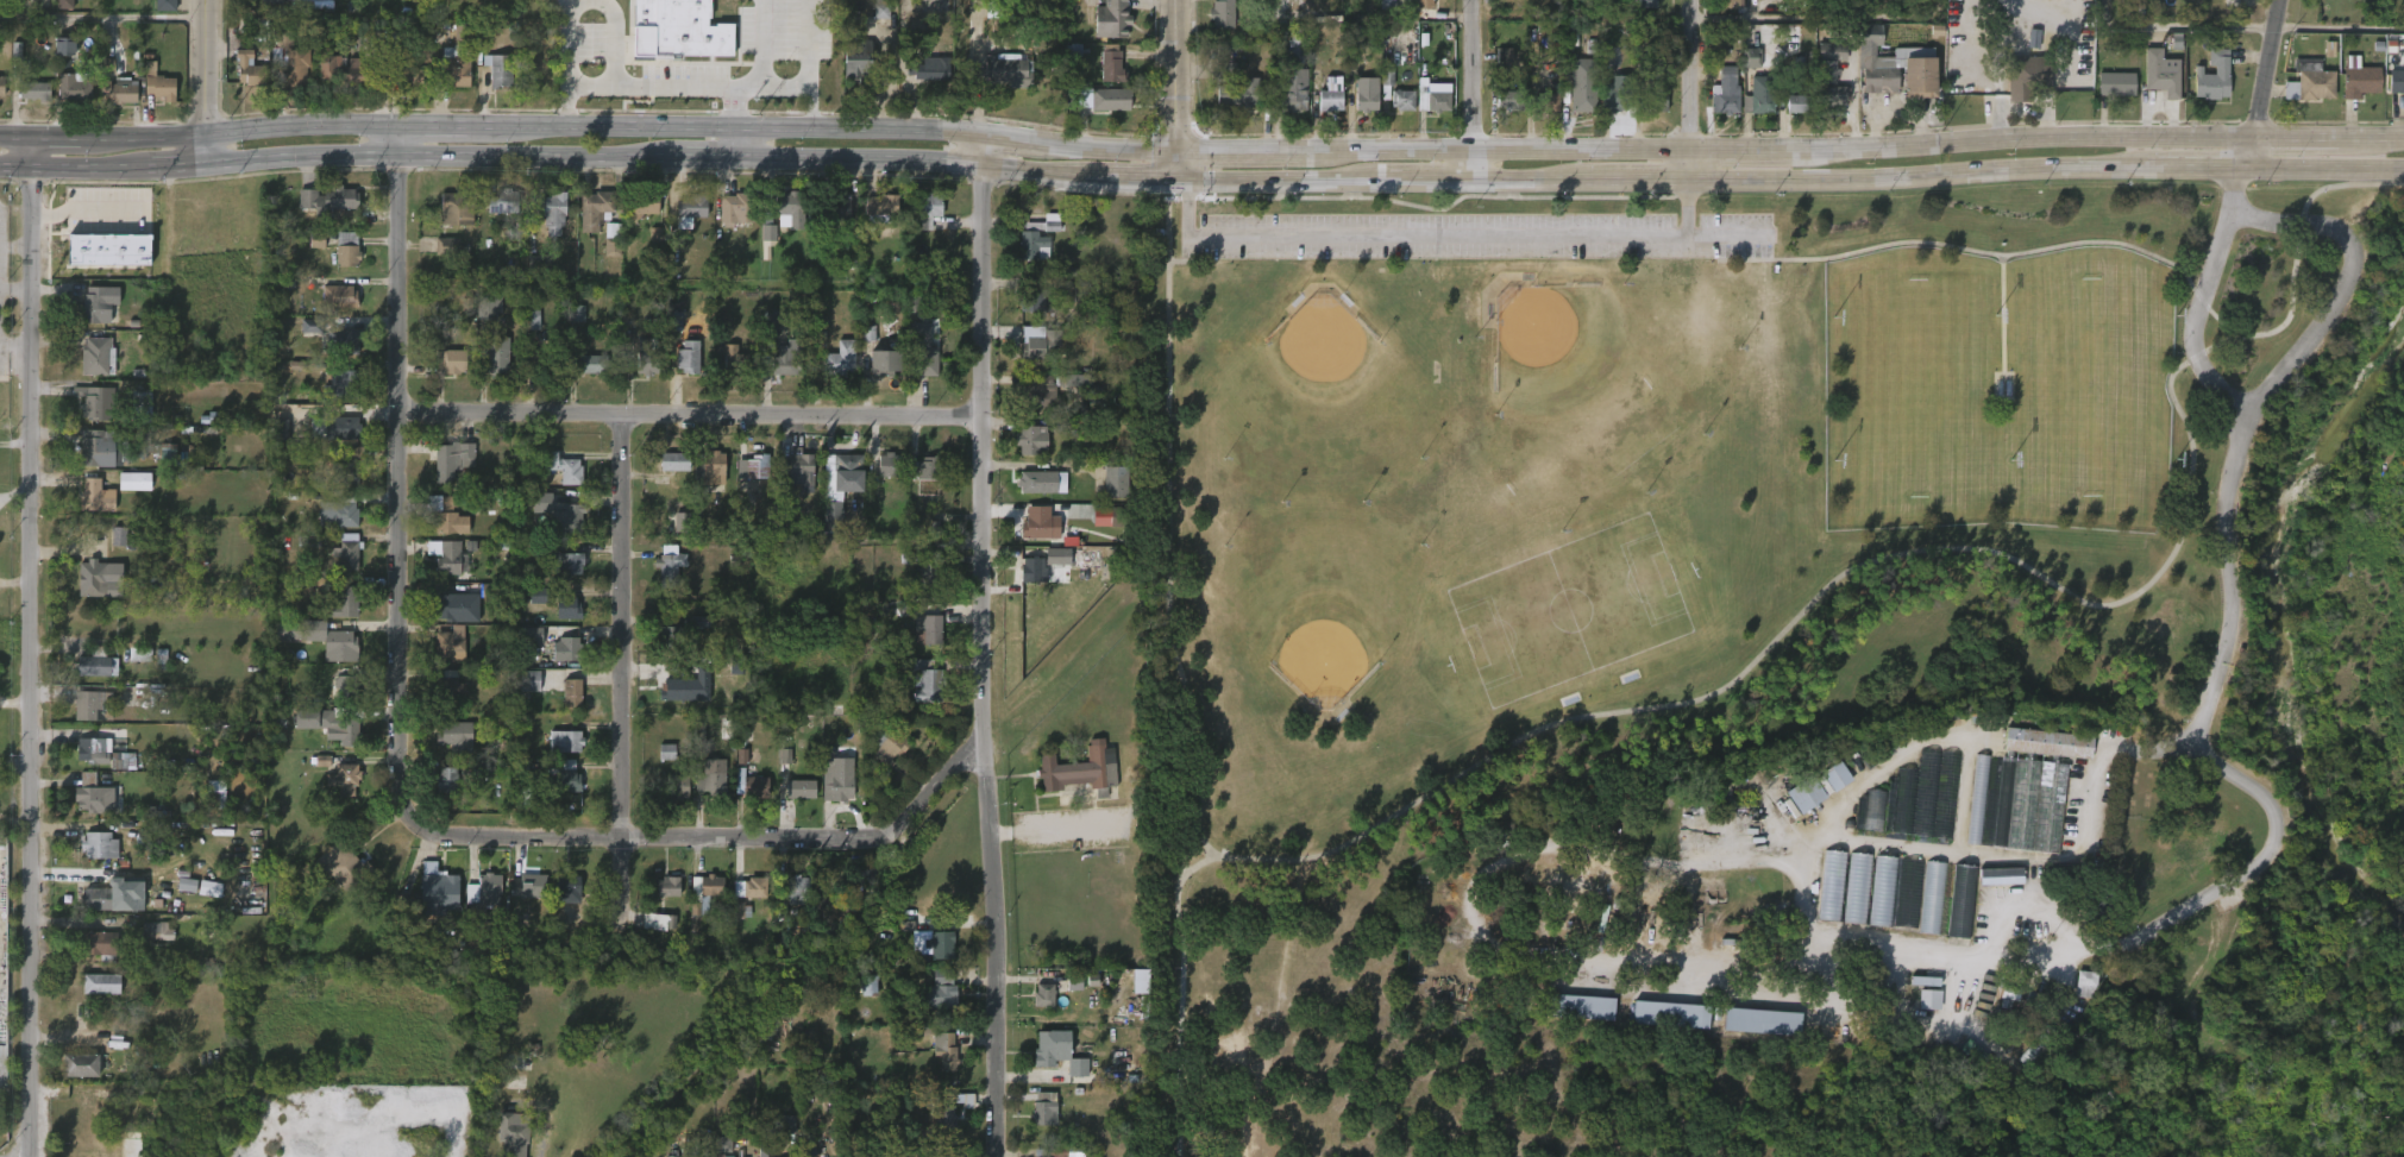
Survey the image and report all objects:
road: (2009, 0)
building: (2331, 1)
building: (2375, 1)
building: (270, 4)
building: (1425, 4)
building: (1647, 4)
building: (1866, 4)
building: (1727, 5)
building: (942, 7)
building: (1408, 10)
building: (1633, 10)
building: (2403, 12)
building: (1220, 14)
building: (1377, 14)
road: (1818, 15)
building: (156, 17)
building: (1112, 20)
building: (683, 26)
road: (2246, 26)
road: (766, 42)
building: (1294, 45)
building: (1833, 54)
building: (2023, 54)
building: (456, 58)
building: (856, 58)
building: (56, 61)
building: (288, 62)
road: (569, 63)
road: (814, 63)
building: (1112, 65)
building: (1285, 65)
building: (1894, 65)
building: (929, 67)
building: (249, 70)
building: (498, 70)
building: (1009, 70)
building: (345, 71)
building: (1741, 73)
building: (2159, 74)
road: (1176, 76)
building: (1819, 76)
building: (2210, 76)
building: (410, 77)
building: (848, 77)
building: (1101, 77)
building: (2027, 78)
building: (2397, 78)
building: (2309, 80)
road: (211, 81)
building: (237, 82)
building: (2360, 82)
building: (320, 83)
road: (691, 83)
building: (157, 84)
building: (490, 84)
building: (918, 84)
building: (999, 84)
building: (1583, 84)
building: (2115, 84)
road: (2262, 84)
building: (1218, 86)
road: (2045, 86)
building: (1, 87)
building: (447, 87)
building: (74, 88)
road: (1694, 88)
road: (1473, 89)
building: (2149, 89)
building: (2202, 92)
building: (33, 93)
building: (117, 93)
road: (2041, 93)
building: (2349, 93)
building: (1239, 94)
building: (1727, 94)
building: (2017, 94)
building: (1367, 95)
building: (1615, 95)
building: (1292, 96)
building: (1832, 96)
building: (2391, 96)
building: (2299, 98)
building: (149, 99)
building: (1401, 99)
building: (2105, 99)
building: (1573, 100)
building: (1432, 101)
building: (1512, 101)
building: (1758, 103)
building: (65, 105)
road: (736, 105)
building: (1113, 106)
building: (1715, 106)
building: (26, 107)
building: (109, 107)
road: (2020, 107)
building: (1229, 108)
building: (1357, 109)
building: (1603, 111)
building: (1824, 111)
building: (1424, 112)
building: (1499, 112)
building: (1100, 114)
building: (1393, 114)
building: (1320, 115)
road: (2041, 115)
building: (1538, 117)
building: (1646, 117)
road: (1998, 117)
building: (1787, 119)
road: (603, 127)
road: (14, 133)
road: (747, 143)
road: (1790, 149)
road: (30, 150)
road: (603, 159)
road: (14, 165)
road: (1176, 166)
road: (1790, 177)
building: (320, 201)
building: (503, 201)
building: (645, 203)
building: (692, 206)
building: (456, 207)
building: (791, 207)
building: (595, 208)
building: (736, 208)
building: (884, 208)
building: (927, 208)
building: (552, 210)
building: (836, 210)
building: (635, 220)
building: (489, 222)
building: (782, 222)
building: (585, 224)
building: (873, 224)
building: (447, 225)
building: (680, 225)
building: (724, 225)
building: (545, 229)
building: (767, 234)
road: (1436, 234)
parking lot: (1489, 234)
building: (1038, 237)
building: (613, 239)
building: (759, 247)
building: (346, 249)
building: (603, 254)
road: (2000, 256)
building: (438, 262)
building: (1024, 262)
building: (338, 264)
building: (541, 265)
road: (14, 290)
building: (340, 297)
building: (1034, 298)
road: (2336, 298)
building: (98, 303)
building: (488, 307)
building: (332, 312)
building: (1024, 315)
building: (302, 340)
building: (762, 340)
building: (345, 341)
building: (1043, 345)
building: (921, 350)
building: (333, 352)
building: (495, 354)
building: (98, 356)
building: (689, 356)
building: (647, 357)
building: (1025, 357)
building: (789, 358)
building: (734, 359)
building: (840, 359)
building: (452, 361)
building: (545, 361)
building: (591, 363)
building: (889, 364)
building: (912, 366)
building: (88, 371)
building: (488, 371)
building: (680, 371)
building: (724, 373)
building: (778, 373)
building: (830, 375)
building: (441, 376)
building: (639, 376)
building: (875, 377)
building: (580, 378)
building: (341, 385)
park: (2090, 385)
park: (1914, 388)
building: (1040, 392)
building: (95, 403)
building: (1028, 407)
road: (690, 415)
building: (84, 417)
building: (346, 428)
building: (1032, 439)
building: (335, 444)
park: (1460, 447)
building: (98, 448)
building: (1023, 454)
building: (452, 459)
building: (674, 461)
building: (889, 464)
building: (88, 466)
building: (758, 466)
building: (560, 467)
building: (711, 469)
building: (925, 469)
building: (801, 471)
road: (396, 474)
building: (444, 474)
building: (665, 477)
building: (134, 480)
building: (877, 480)
building: (745, 482)
building: (1042, 482)
building: (1113, 482)
building: (556, 483)
building: (701, 483)
building: (915, 483)
building: (341, 485)
building: (840, 485)
building: (791, 488)
building: (94, 496)
building: (126, 496)
building: (1032, 496)
building: (1105, 496)
building: (87, 510)
building: (343, 511)
building: (739, 514)
building: (450, 517)
building: (533, 517)
building: (567, 518)
building: (1042, 523)
building: (329, 529)
building: (559, 534)
building: (669, 536)
building: (123, 537)
building: (442, 537)
building: (1030, 537)
road: (1935, 545)
building: (111, 547)
building: (346, 551)
building: (447, 558)
building: (1086, 558)
building: (569, 564)
building: (338, 566)
building: (669, 566)
building: (439, 571)
building: (1048, 571)
building: (928, 574)
building: (558, 578)
building: (93, 579)
building: (916, 589)
building: (454, 599)
building: (344, 602)
building: (567, 608)
building: (334, 615)
park: (1567, 615)
building: (437, 621)
building: (559, 622)
building: (924, 625)
building: (289, 630)
building: (691, 636)
building: (335, 640)
road: (987, 643)
building: (918, 644)
building: (447, 647)
building: (566, 649)
building: (661, 653)
building: (331, 660)
road: (31, 661)
building: (95, 664)
building: (556, 664)
park: (1780, 665)
road: (628, 671)
road: (1191, 675)
park: (1776, 678)
building: (87, 680)
building: (924, 680)
building: (346, 686)
building: (450, 688)
building: (685, 690)
building: (571, 693)
building: (912, 693)
building: (677, 703)
building: (444, 704)
building: (94, 705)
building: (563, 708)
building: (343, 724)
building: (456, 737)
road: (2196, 737)
building: (320, 741)
road: (1928, 741)
building: (565, 742)
building: (2052, 743)
building: (889, 744)
building: (93, 748)
building: (445, 749)
building: (557, 756)
building: (2038, 757)
building: (879, 760)
building: (88, 766)
building: (657, 767)
building: (478, 768)
building: (340, 771)
building: (776, 771)
building: (1078, 772)
building: (1835, 775)
building: (565, 776)
building: (836, 776)
building: (445, 780)
building: (710, 784)
building: (754, 784)
building: (677, 787)
building: (558, 790)
building: (799, 790)
building: (828, 791)
building: (335, 793)
building: (1804, 793)
building: (92, 796)
building: (438, 796)
building: (1927, 796)
building: (704, 798)
building: (741, 799)
building: (669, 801)
building: (791, 804)
building: (2017, 804)
building: (208, 806)
building: (84, 809)
building: (1873, 810)
road: (2085, 813)
road: (1062, 831)
road: (1818, 840)
road: (716, 841)
building: (98, 845)
building: (90, 859)
building: (338, 866)
building: (331, 881)
building: (533, 886)
building: (567, 886)
building: (1832, 886)
building: (751, 888)
building: (1858, 888)
building: (437, 891)
building: (1884, 891)
building: (1991, 891)
building: (1909, 893)
building: (484, 894)
building: (795, 894)
building: (98, 898)
building: (703, 898)
building: (1932, 898)
building: (178, 899)
building: (560, 900)
building: (1821, 900)
building: (525, 901)
building: (659, 901)
building: (745, 901)
building: (1848, 901)
building: (1962, 901)
building: (201, 903)
building: (789, 905)
building: (1873, 905)
building: (1900, 907)
building: (693, 913)
building: (1952, 916)
building: (156, 931)
building: (648, 936)
building: (942, 944)
building: (99, 945)
building: (149, 945)
building: (407, 948)
building: (90, 957)
building: (933, 960)
building: (2085, 983)
building: (100, 985)
building: (942, 996)
building: (1044, 996)
building: (93, 998)
building: (1065, 998)
building: (2075, 998)
building: (860, 1000)
building: (929, 1006)
building: (1035, 1010)
building: (1920, 1013)
building: (1574, 1021)
building: (1661, 1029)
building: (1752, 1036)
building: (2038, 1044)
building: (947, 1049)
building: (1978, 1052)
building: (1059, 1054)
building: (80, 1064)
building: (935, 1064)
building: (1048, 1067)
building: (71, 1080)
building: (1044, 1109)
building: (944, 1114)
building: (1035, 1123)
building: (151, 1125)
building: (936, 1133)
building: (513, 1134)
building: (777, 1138)
building: (112, 1149)
building: (1057, 1151)
building: (715, 1153)
building: (1166, 1153)
building: (671, 1156)
building: (727, 1156)

